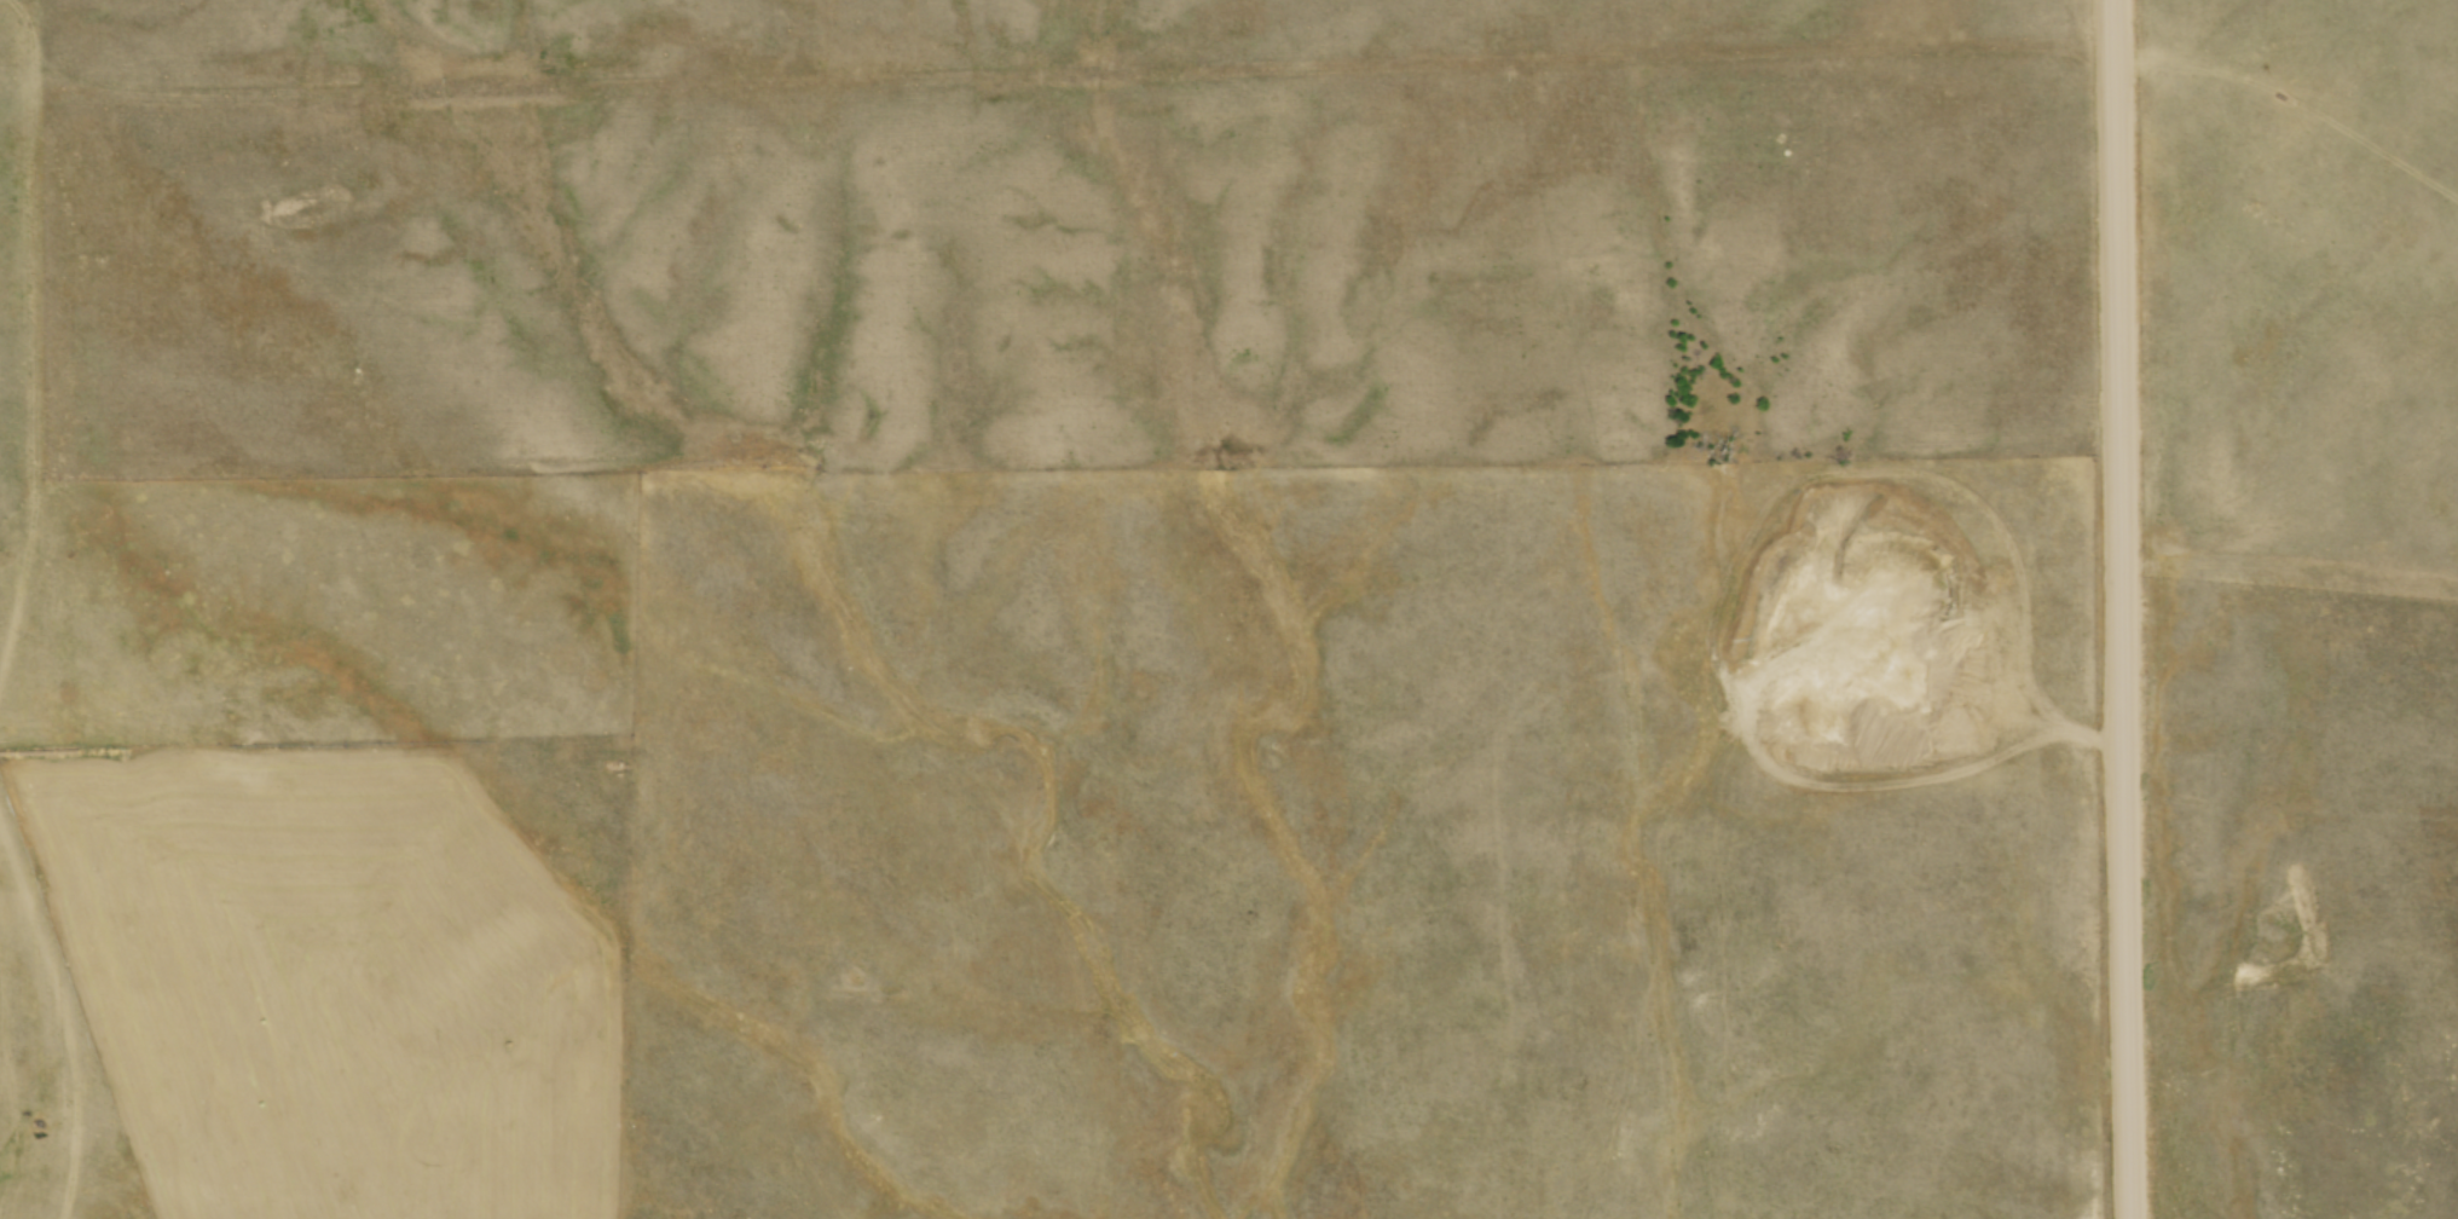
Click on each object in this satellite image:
road: (2127, 608)

